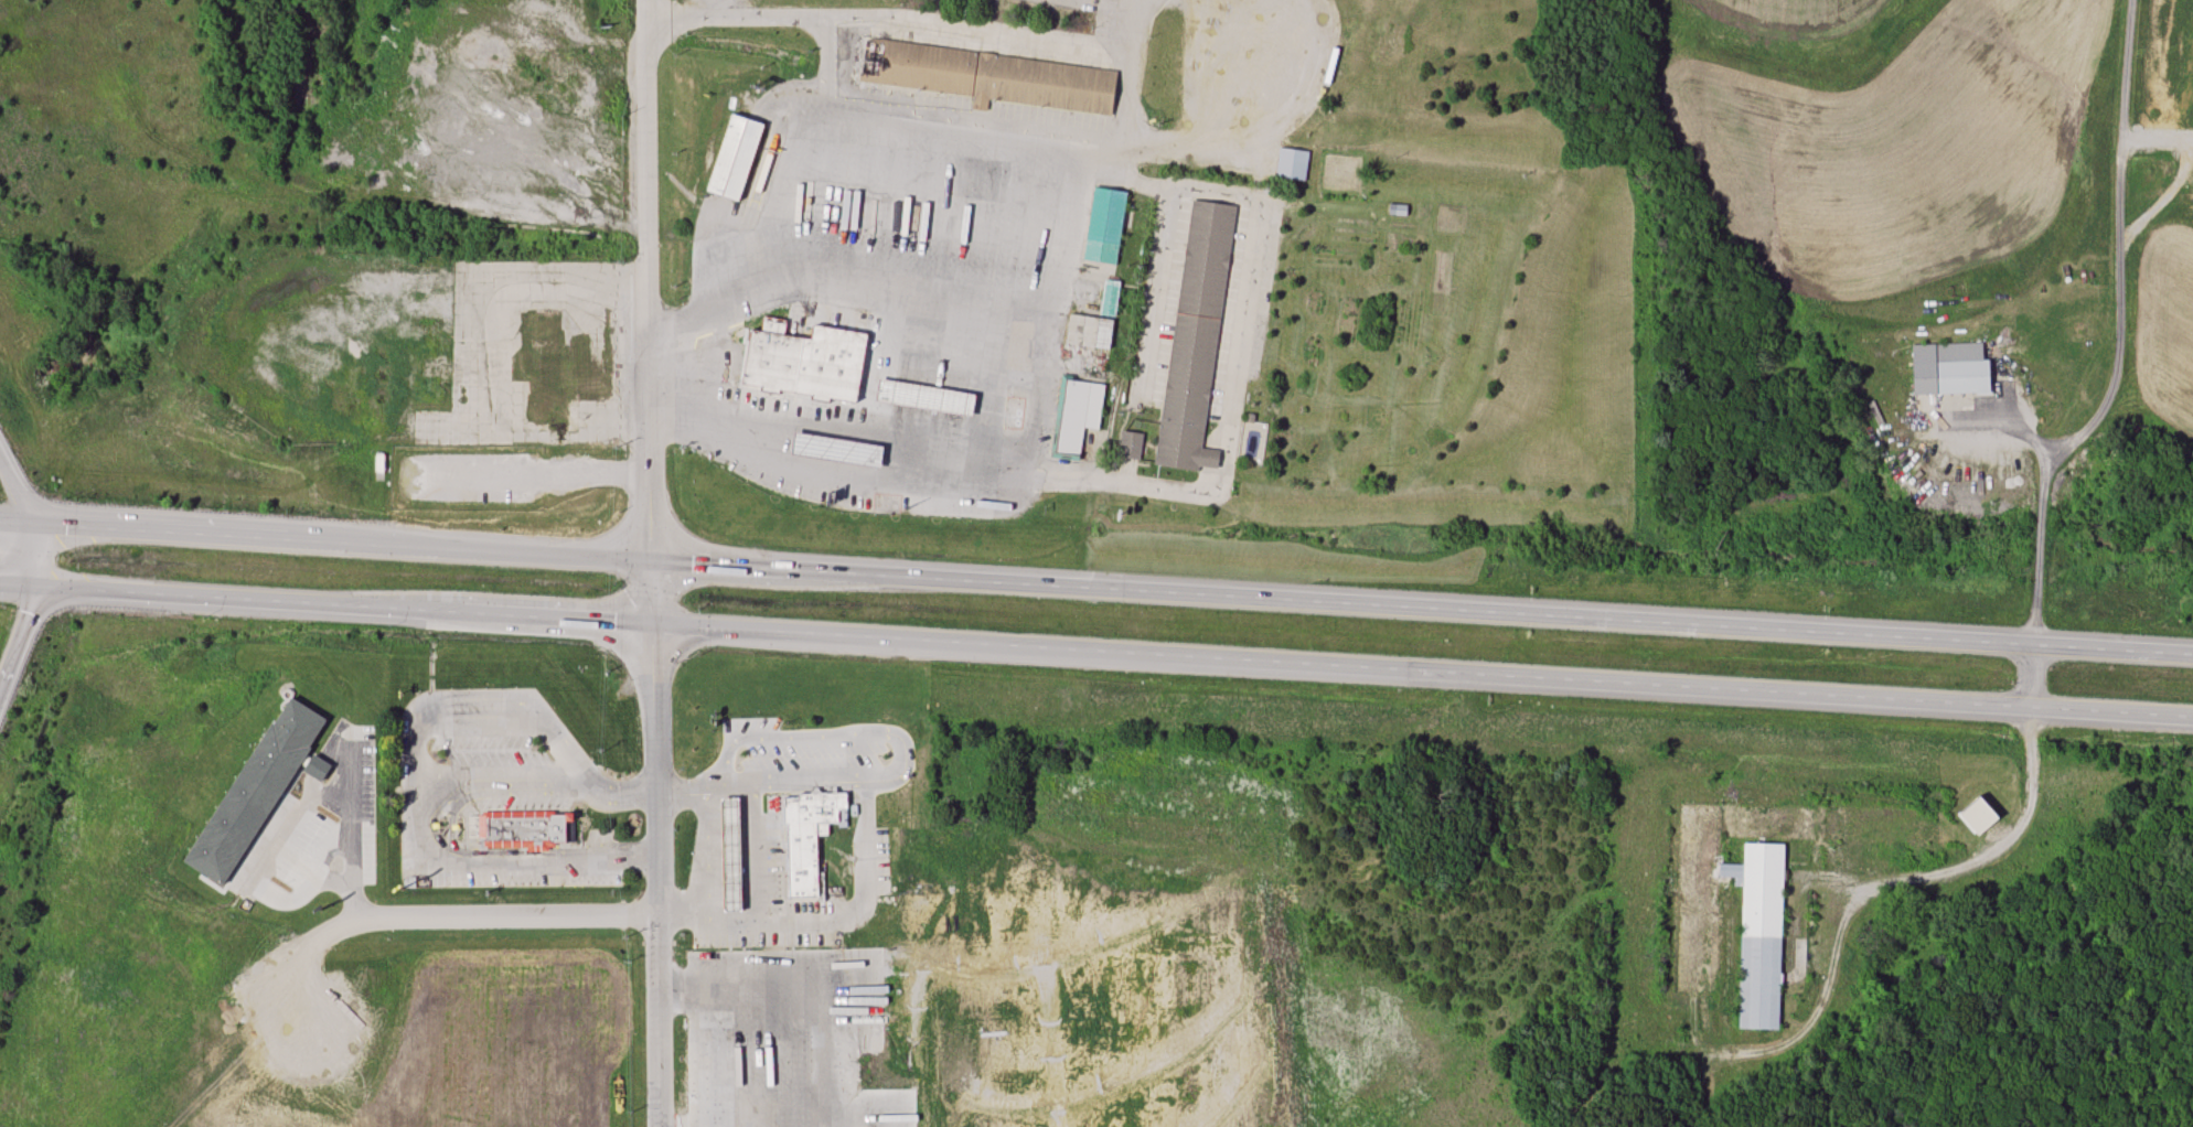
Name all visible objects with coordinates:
road: (671, 18)
road: (800, 19)
building: (1250, 75)
building: (991, 77)
road: (906, 125)
building: (737, 157)
building: (1291, 163)
road: (1195, 192)
building: (1105, 225)
road: (573, 285)
building: (1111, 297)
road: (900, 302)
building: (1090, 330)
building: (1197, 337)
road: (494, 355)
building: (1951, 368)
building: (880, 374)
building: (434, 379)
building: (1078, 414)
road: (841, 426)
building: (1132, 444)
building: (842, 449)
building: (379, 463)
road: (1078, 484)
road: (30, 516)
road: (2043, 520)
traffic signals: (652, 560)
road: (652, 563)
road: (18, 583)
road: (1096, 588)
traffic signals: (653, 621)
road: (21, 642)
road: (1114, 655)
parking lot: (784, 748)
parking lot: (492, 749)
road: (504, 772)
park: (974, 779)
building: (258, 791)
road: (625, 792)
parking lot: (406, 799)
parking lot: (518, 802)
building: (812, 807)
building: (1980, 815)
building: (732, 820)
building: (523, 827)
parking lot: (319, 830)
building: (801, 835)
parking lot: (771, 846)
gas station: (731, 854)
parking lot: (880, 860)
building: (802, 871)
road: (350, 882)
building: (1755, 890)
parking lot: (802, 904)
road: (484, 913)
road: (811, 1015)
parking lot: (849, 1038)
gas station: (742, 1048)

